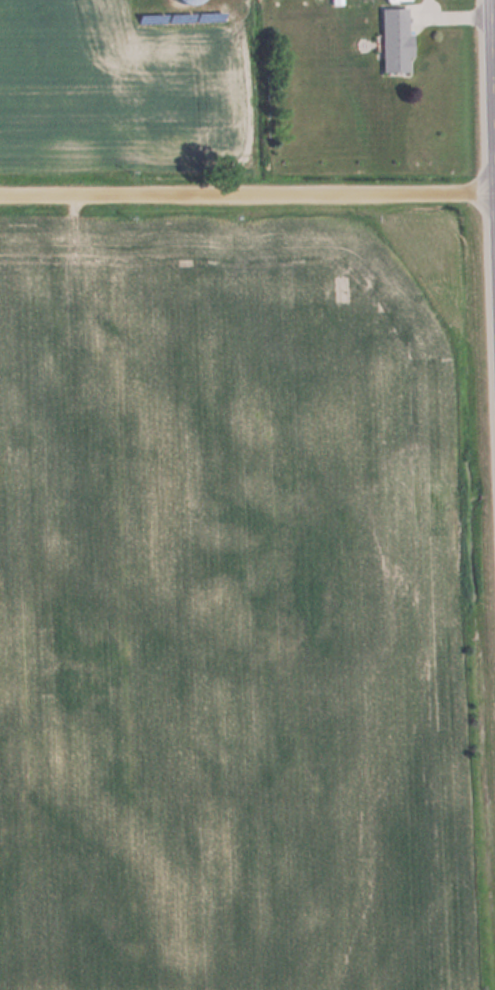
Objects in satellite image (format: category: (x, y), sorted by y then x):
building: (188, 2)
building: (397, 41)
road: (492, 109)
road: (247, 193)

